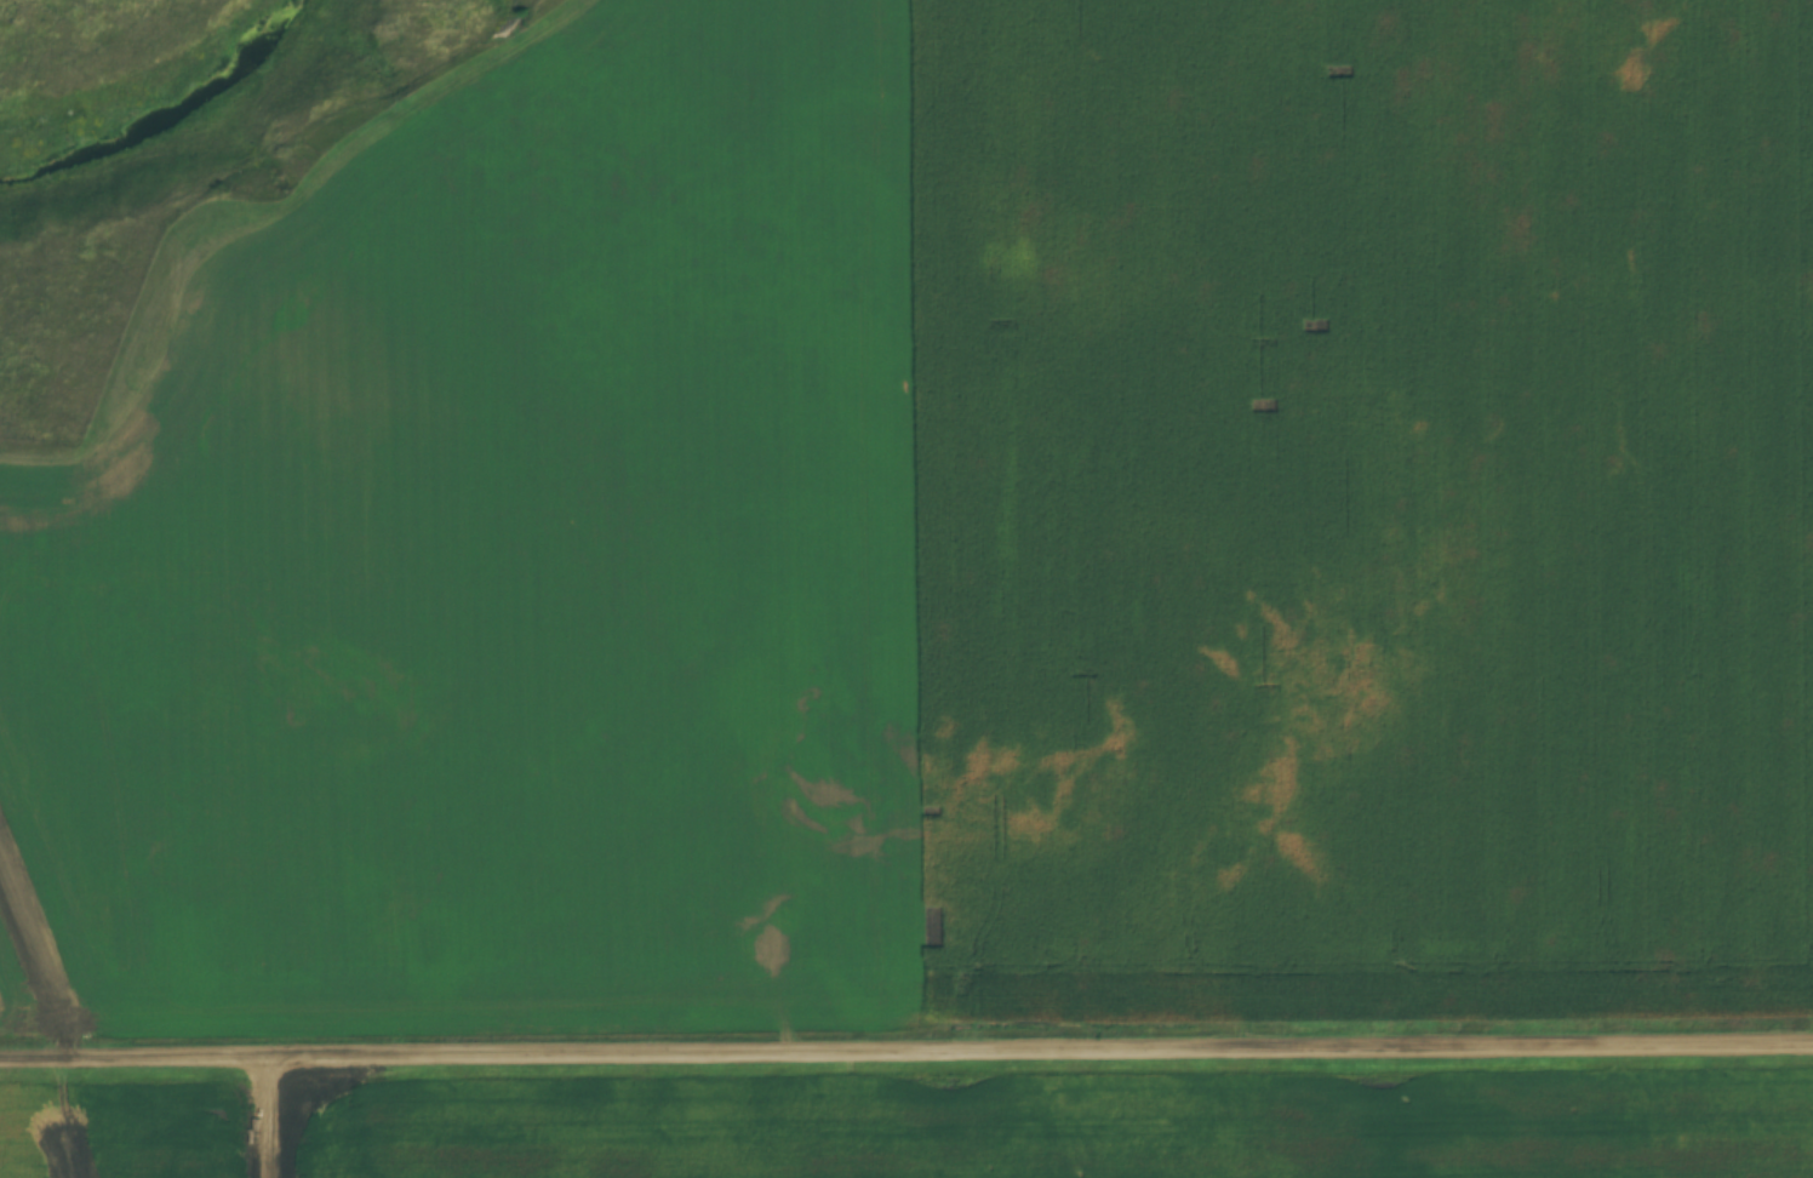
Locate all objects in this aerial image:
road: (906, 1058)

